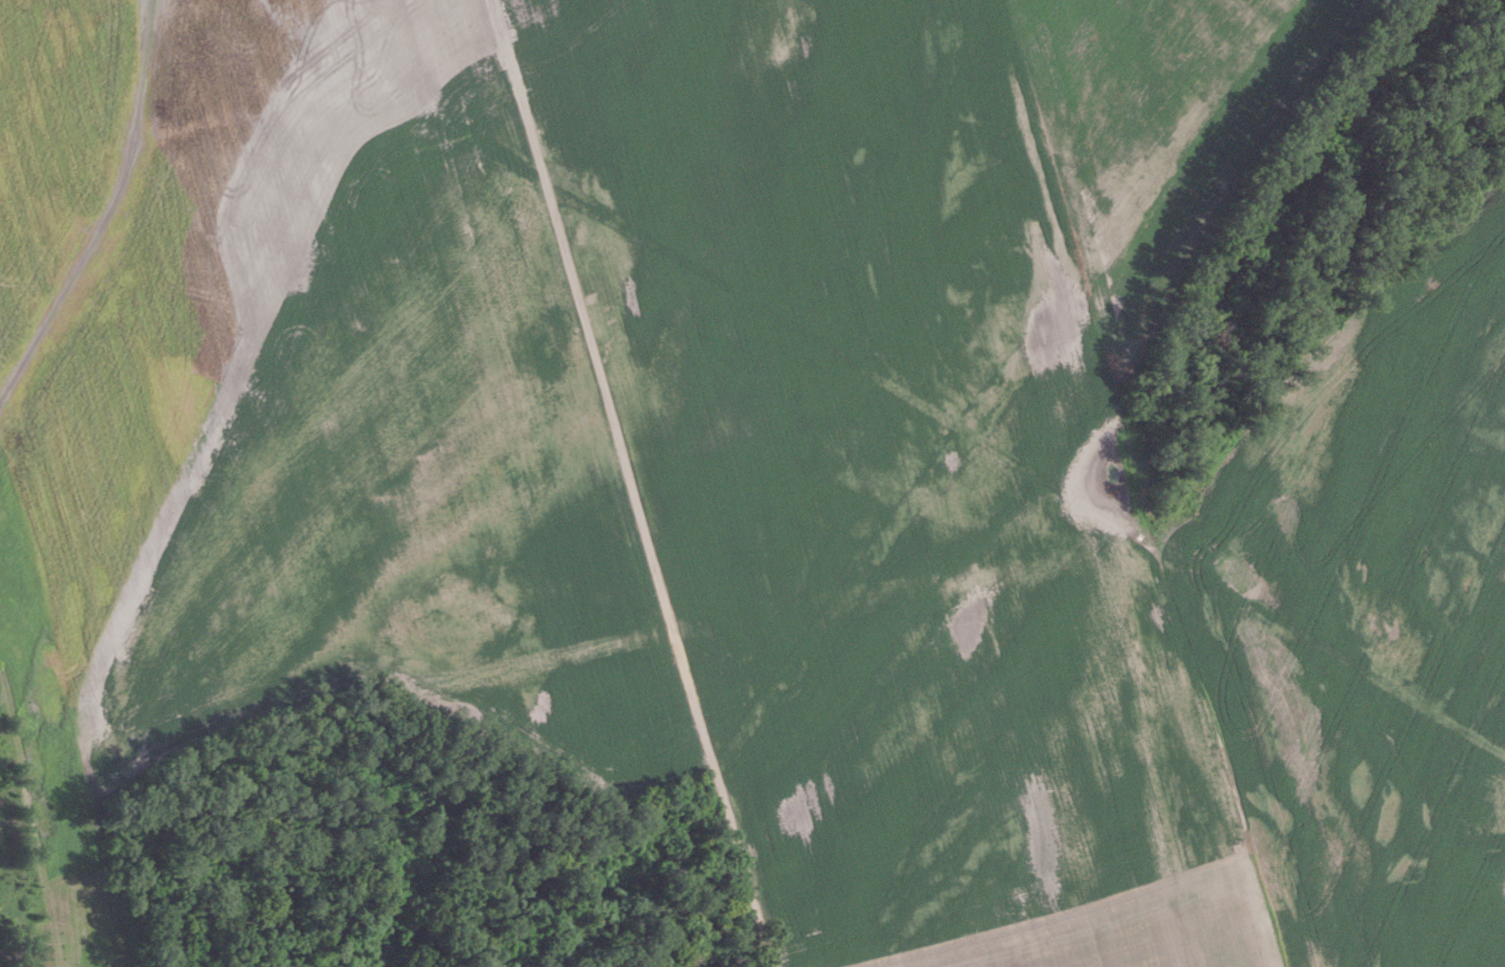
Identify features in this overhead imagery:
road: (603, 387)
crop: (773, 450)
road: (742, 871)

